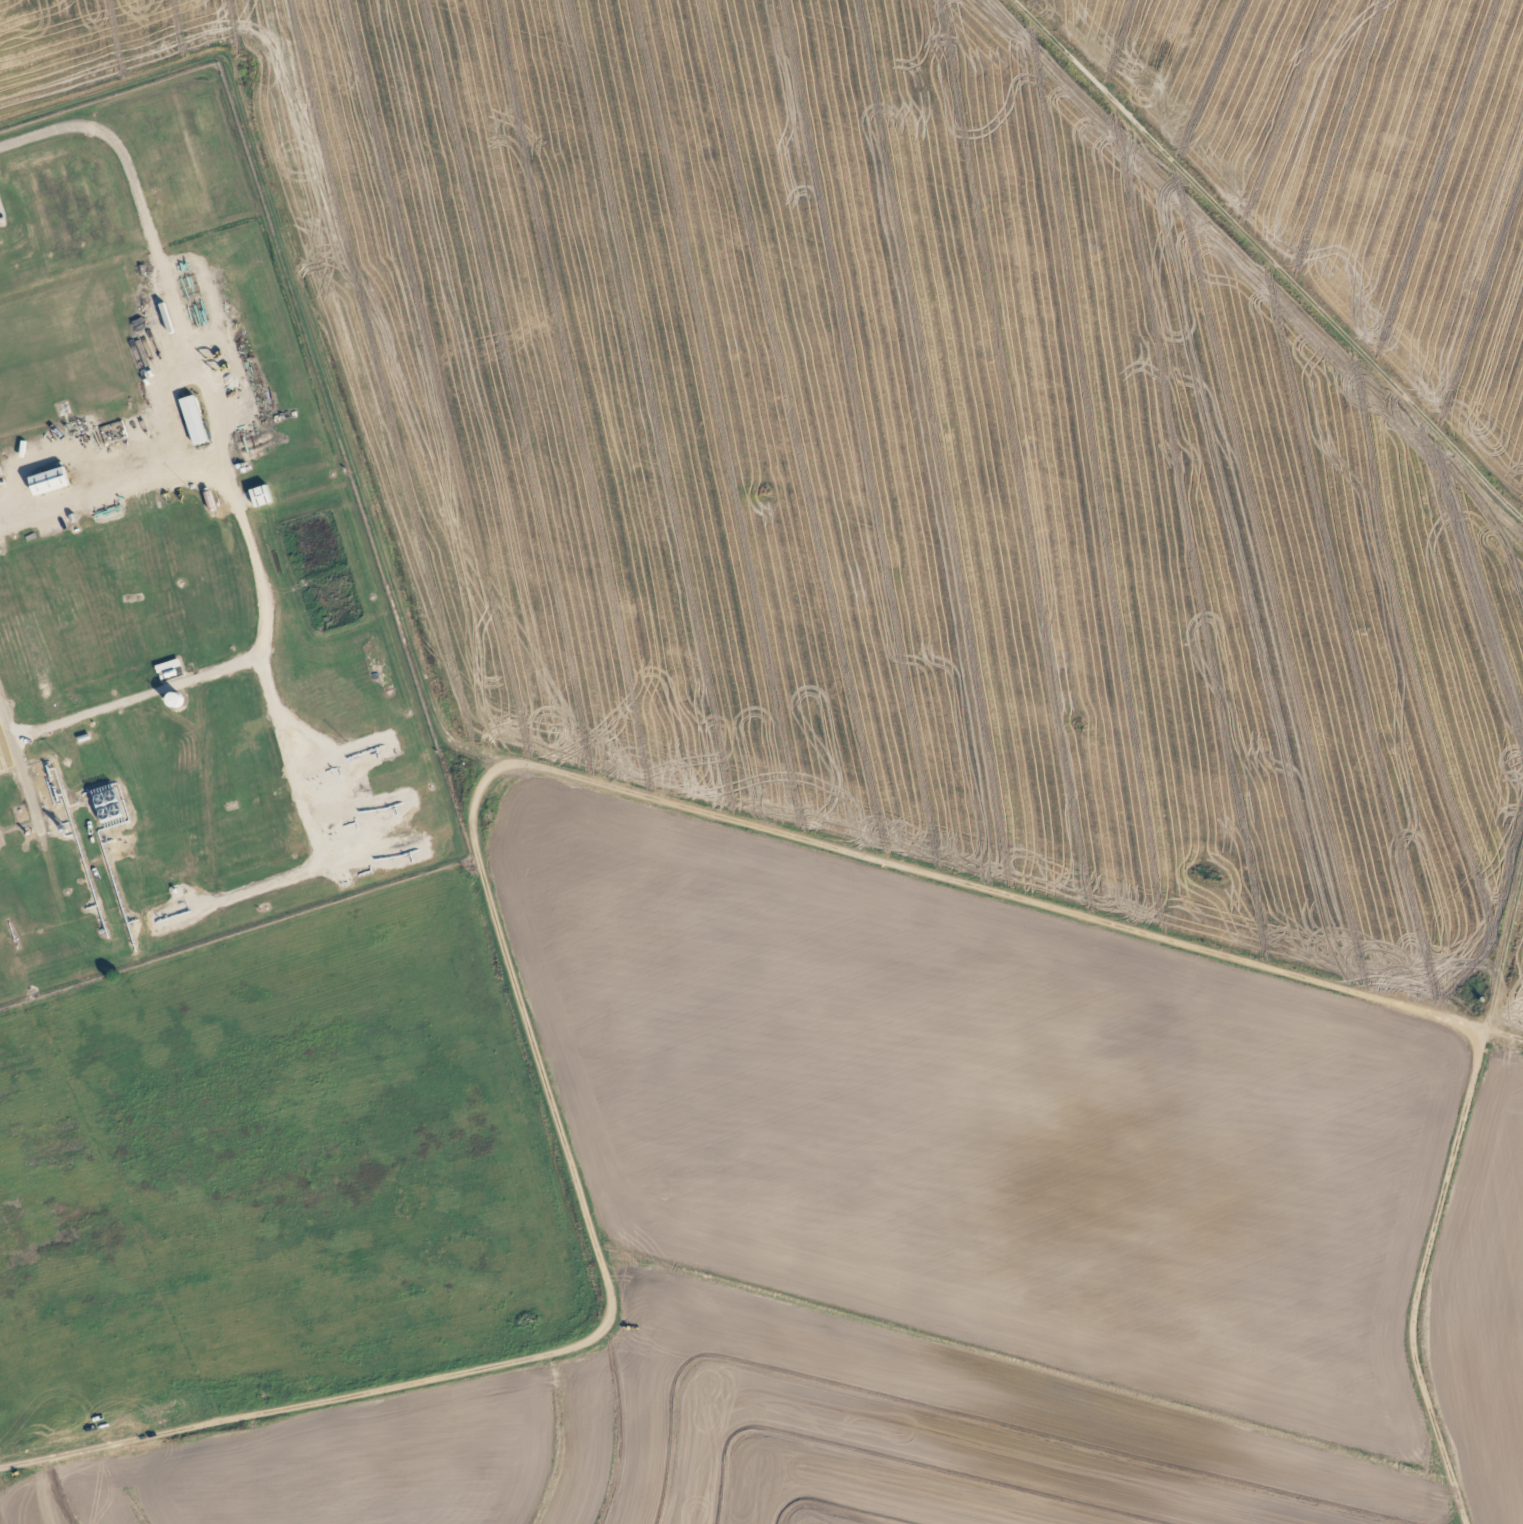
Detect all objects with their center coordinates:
road: (183, 350)
building: (195, 421)
building: (50, 482)
building: (262, 496)
road: (216, 670)

